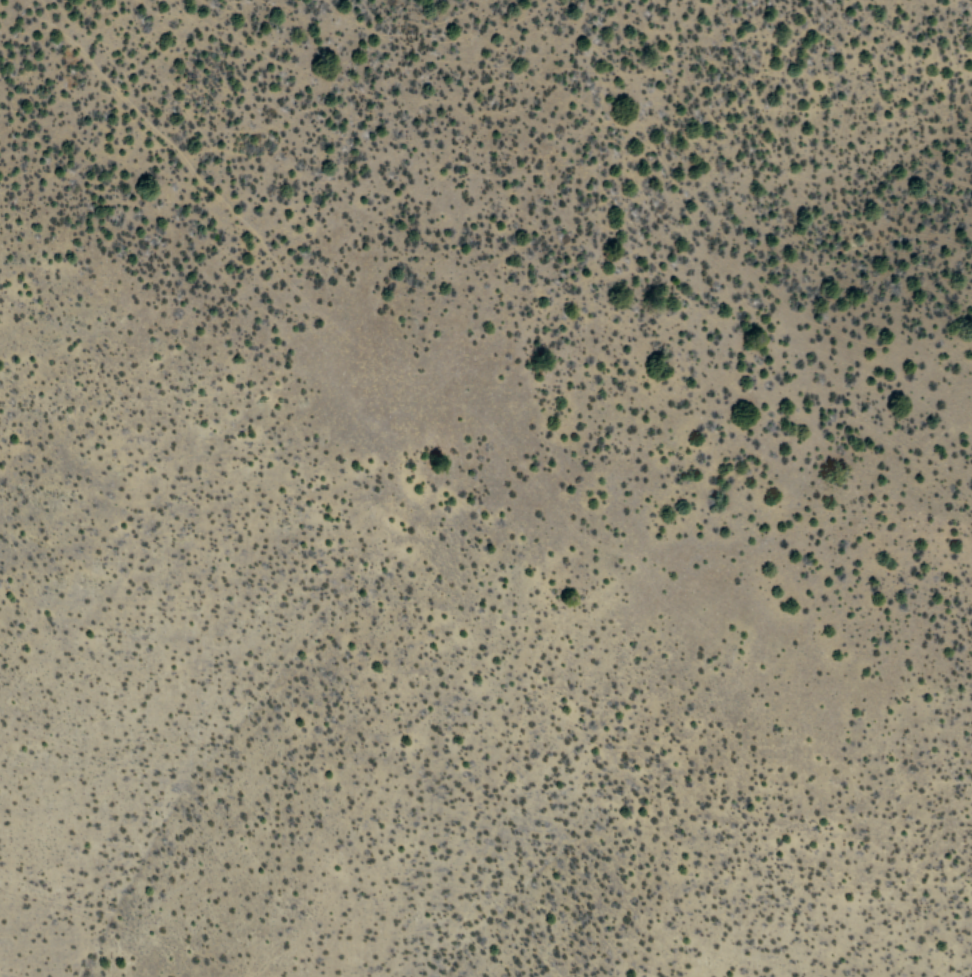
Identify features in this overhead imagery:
road: (201, 183)

